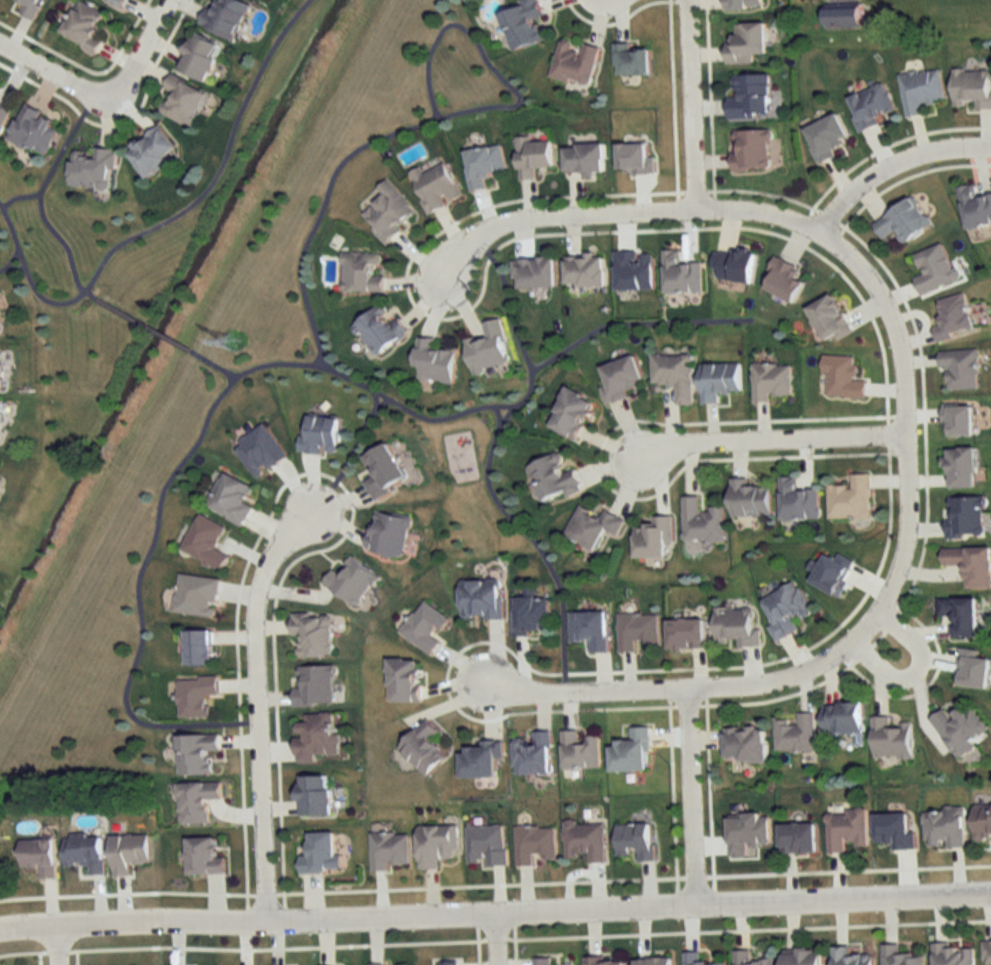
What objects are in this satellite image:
building: (116, 2)
building: (743, 4)
building: (30, 8)
building: (224, 17)
building: (842, 18)
building: (524, 24)
building: (83, 27)
building: (748, 43)
road: (140, 51)
building: (199, 57)
building: (631, 60)
building: (574, 62)
road: (52, 76)
road: (425, 80)
building: (0, 89)
building: (971, 89)
building: (920, 90)
building: (749, 96)
building: (182, 100)
road: (693, 103)
building: (871, 105)
building: (3, 115)
building: (34, 130)
building: (825, 137)
building: (749, 151)
building: (151, 152)
building: (532, 156)
building: (583, 159)
road: (893, 161)
building: (483, 164)
building: (93, 169)
road: (342, 172)
building: (434, 187)
building: (974, 208)
road: (18, 210)
road: (560, 212)
building: (387, 213)
road: (40, 216)
building: (902, 222)
road: (166, 224)
building: (734, 266)
building: (934, 270)
building: (584, 271)
building: (362, 272)
building: (533, 273)
building: (680, 274)
road: (12, 276)
building: (783, 279)
building: (954, 317)
building: (829, 319)
building: (379, 330)
power tower: (240, 340)
road: (151, 342)
building: (487, 348)
building: (433, 362)
building: (960, 368)
building: (0, 369)
road: (536, 371)
road: (211, 375)
building: (674, 375)
building: (842, 377)
building: (621, 378)
building: (718, 381)
building: (771, 381)
building: (570, 413)
building: (0, 416)
building: (321, 435)
road: (775, 436)
building: (259, 451)
road: (909, 451)
road: (348, 453)
building: (961, 468)
building: (383, 471)
road: (187, 472)
building: (553, 479)
building: (230, 499)
building: (748, 499)
building: (849, 499)
building: (797, 502)
building: (964, 518)
building: (701, 522)
building: (592, 527)
building: (388, 534)
building: (653, 538)
building: (206, 540)
building: (970, 565)
building: (350, 582)
building: (196, 593)
building: (480, 600)
building: (785, 611)
building: (531, 616)
building: (960, 617)
building: (424, 627)
building: (736, 627)
building: (590, 631)
building: (637, 632)
building: (312, 635)
building: (686, 635)
building: (198, 649)
road: (918, 667)
building: (402, 681)
building: (313, 686)
road: (587, 689)
building: (194, 696)
road: (259, 704)
building: (842, 719)
building: (960, 729)
building: (795, 734)
building: (315, 736)
building: (891, 739)
building: (744, 745)
building: (422, 748)
building: (579, 751)
building: (196, 753)
building: (631, 753)
building: (532, 754)
building: (481, 759)
building: (313, 793)
road: (694, 793)
building: (196, 800)
building: (982, 823)
building: (943, 826)
building: (846, 829)
building: (746, 832)
building: (798, 837)
building: (634, 839)
building: (584, 840)
building: (436, 844)
building: (534, 844)
building: (486, 845)
building: (389, 849)
building: (84, 852)
building: (127, 852)
building: (320, 853)
building: (38, 856)
building: (203, 856)
road: (495, 910)
road: (498, 937)
road: (61, 944)
building: (986, 952)
building: (953, 954)
building: (899, 956)
building: (802, 957)
building: (849, 957)
building: (696, 959)
building: (748, 959)
building: (604, 961)
building: (653, 961)
building: (547, 962)
building: (449, 963)
building: (376, 964)

